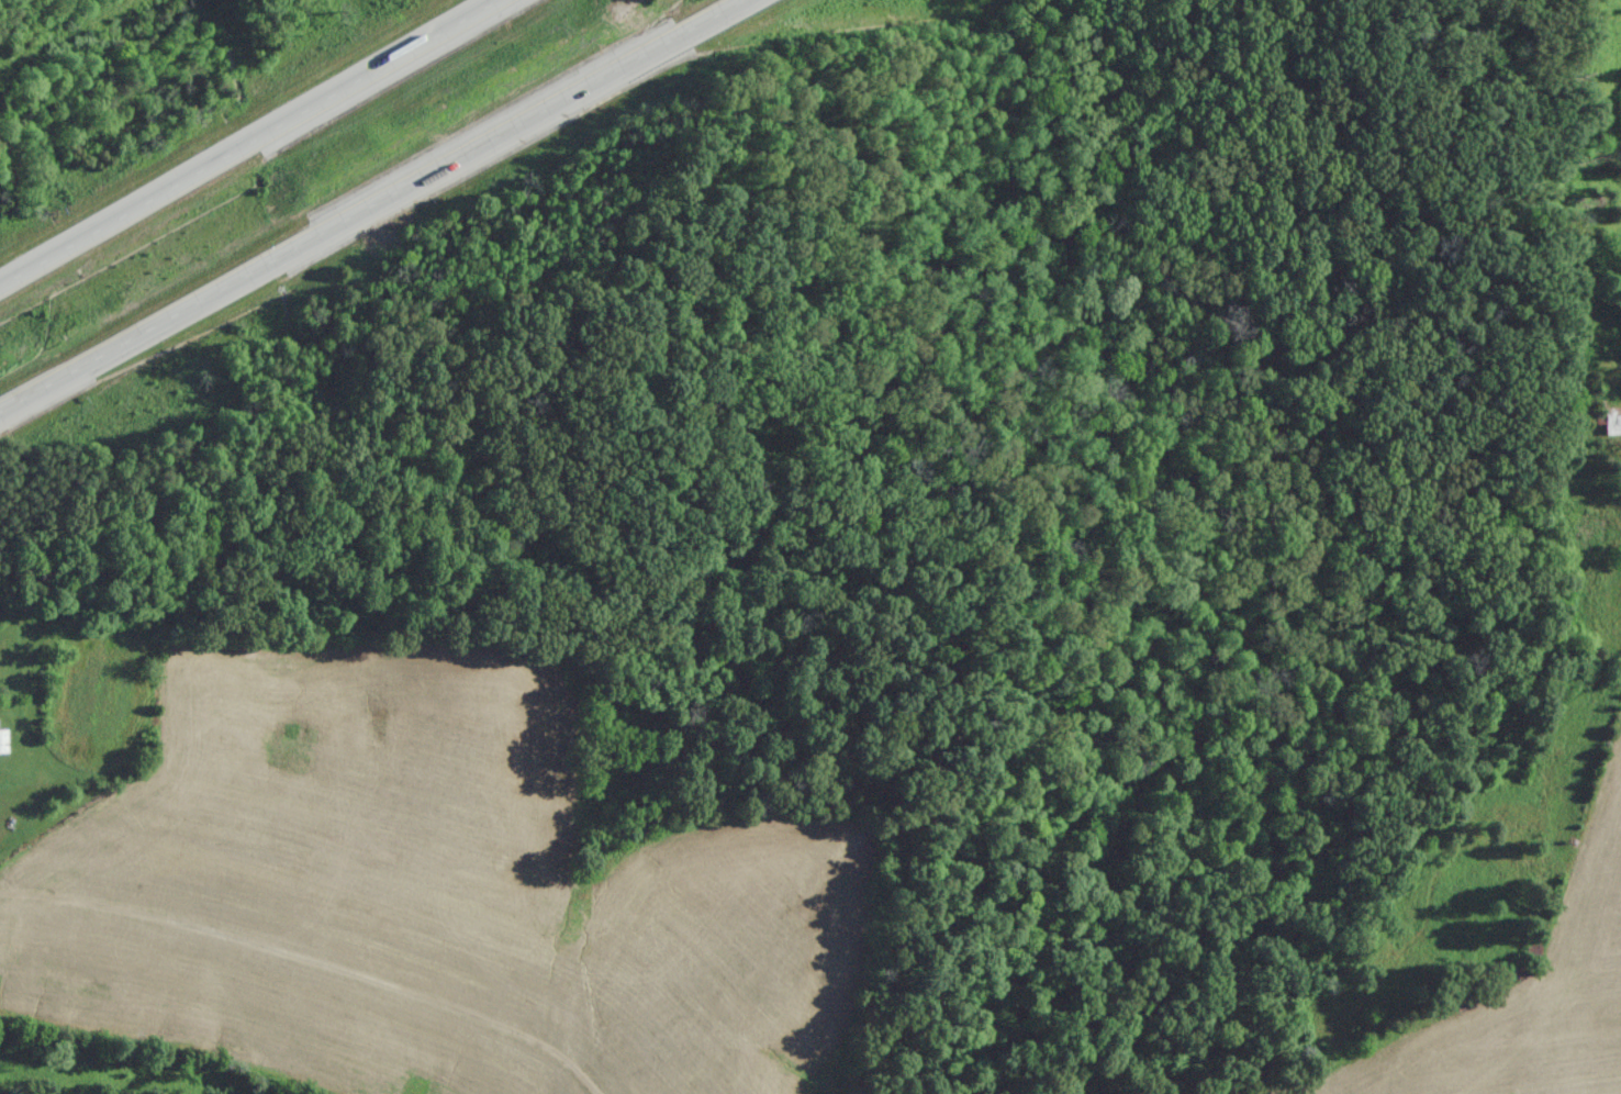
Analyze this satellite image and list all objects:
road: (255, 147)
road: (372, 205)
building: (1612, 423)
building: (2, 743)
building: (1531, 952)

